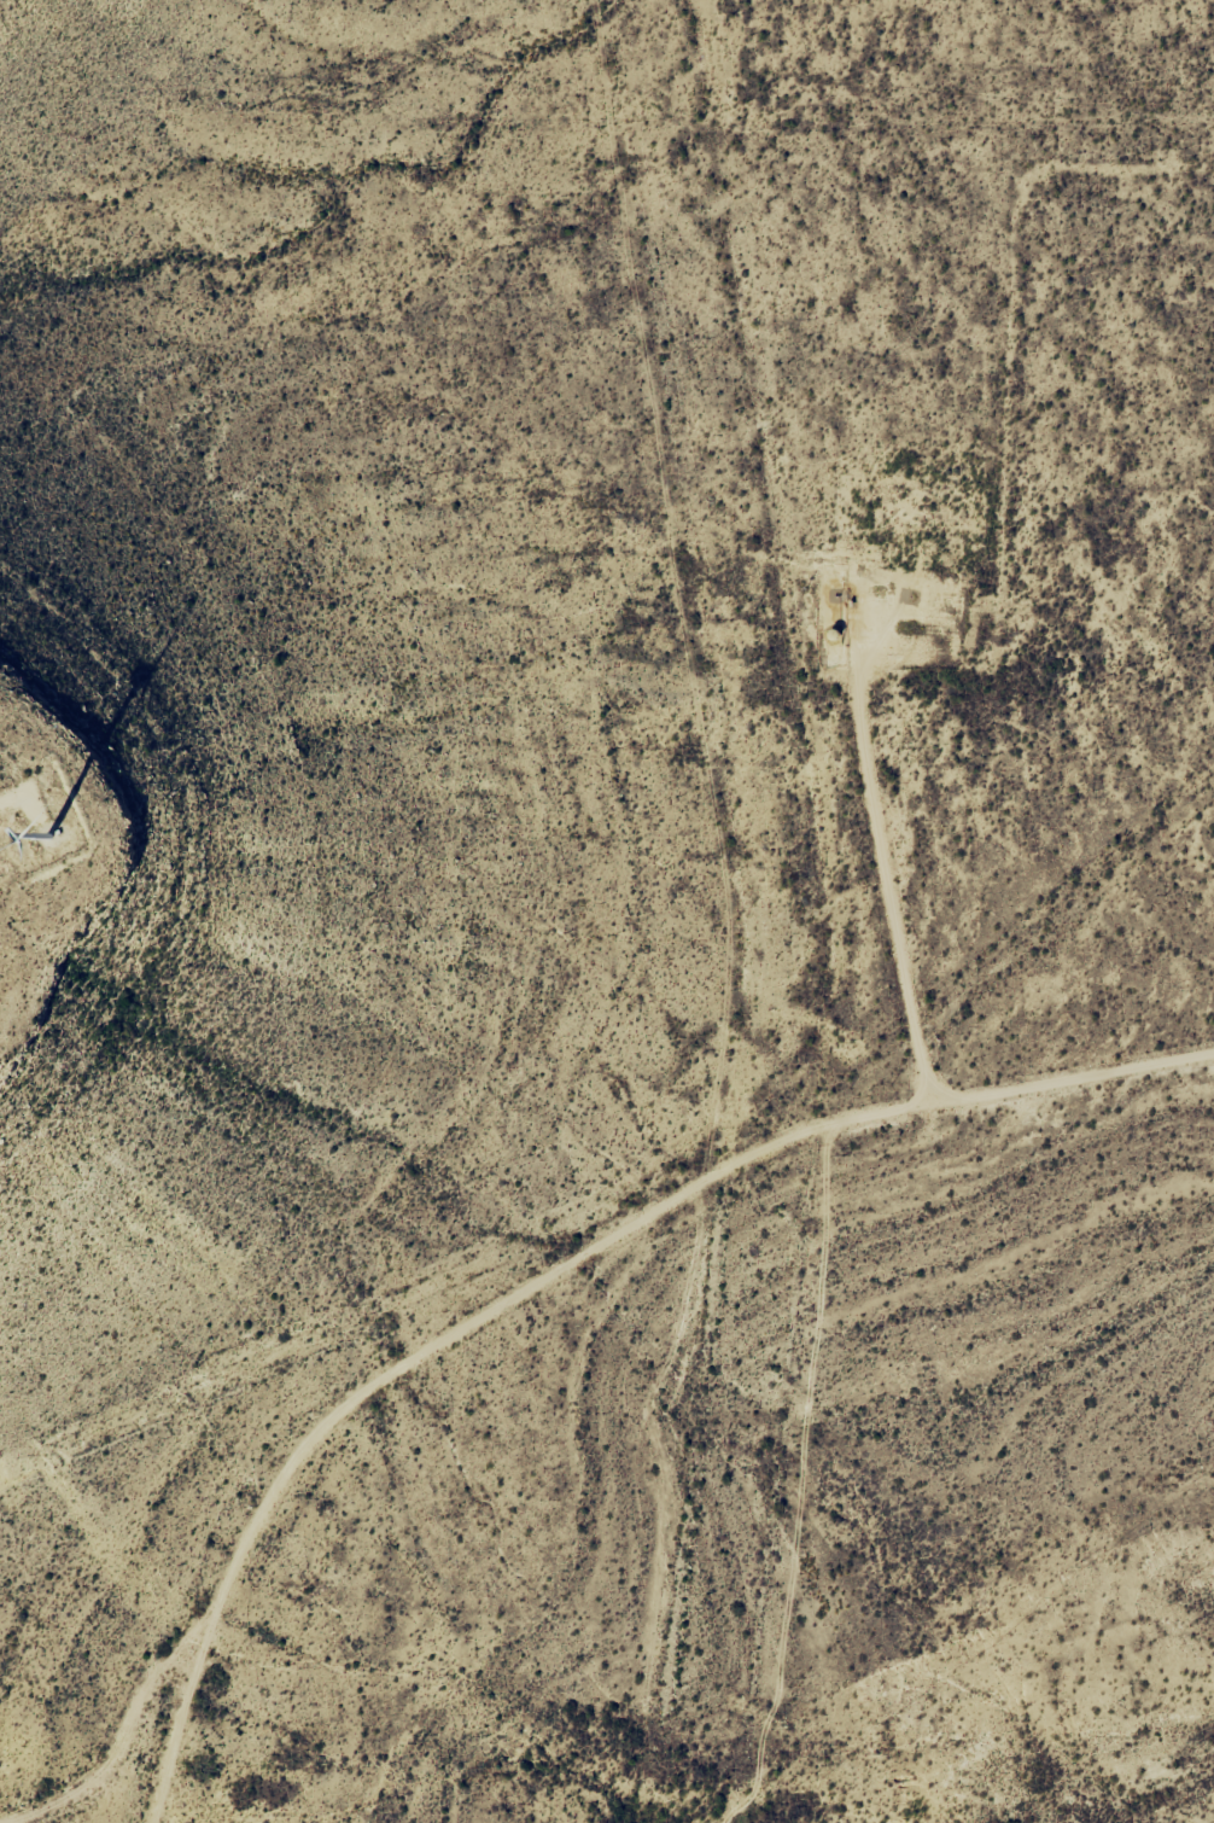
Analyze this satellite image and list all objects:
wind turbine: (39, 850)

